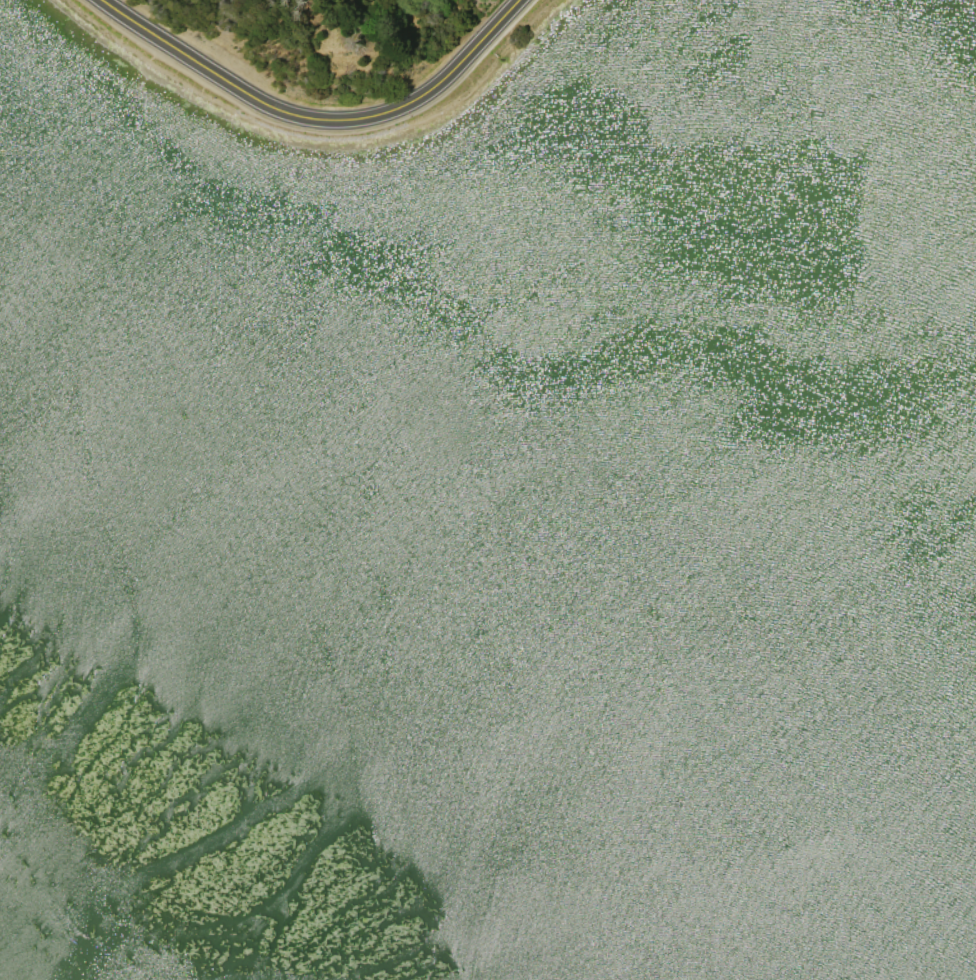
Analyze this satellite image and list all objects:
road: (315, 118)
road: (313, 130)

